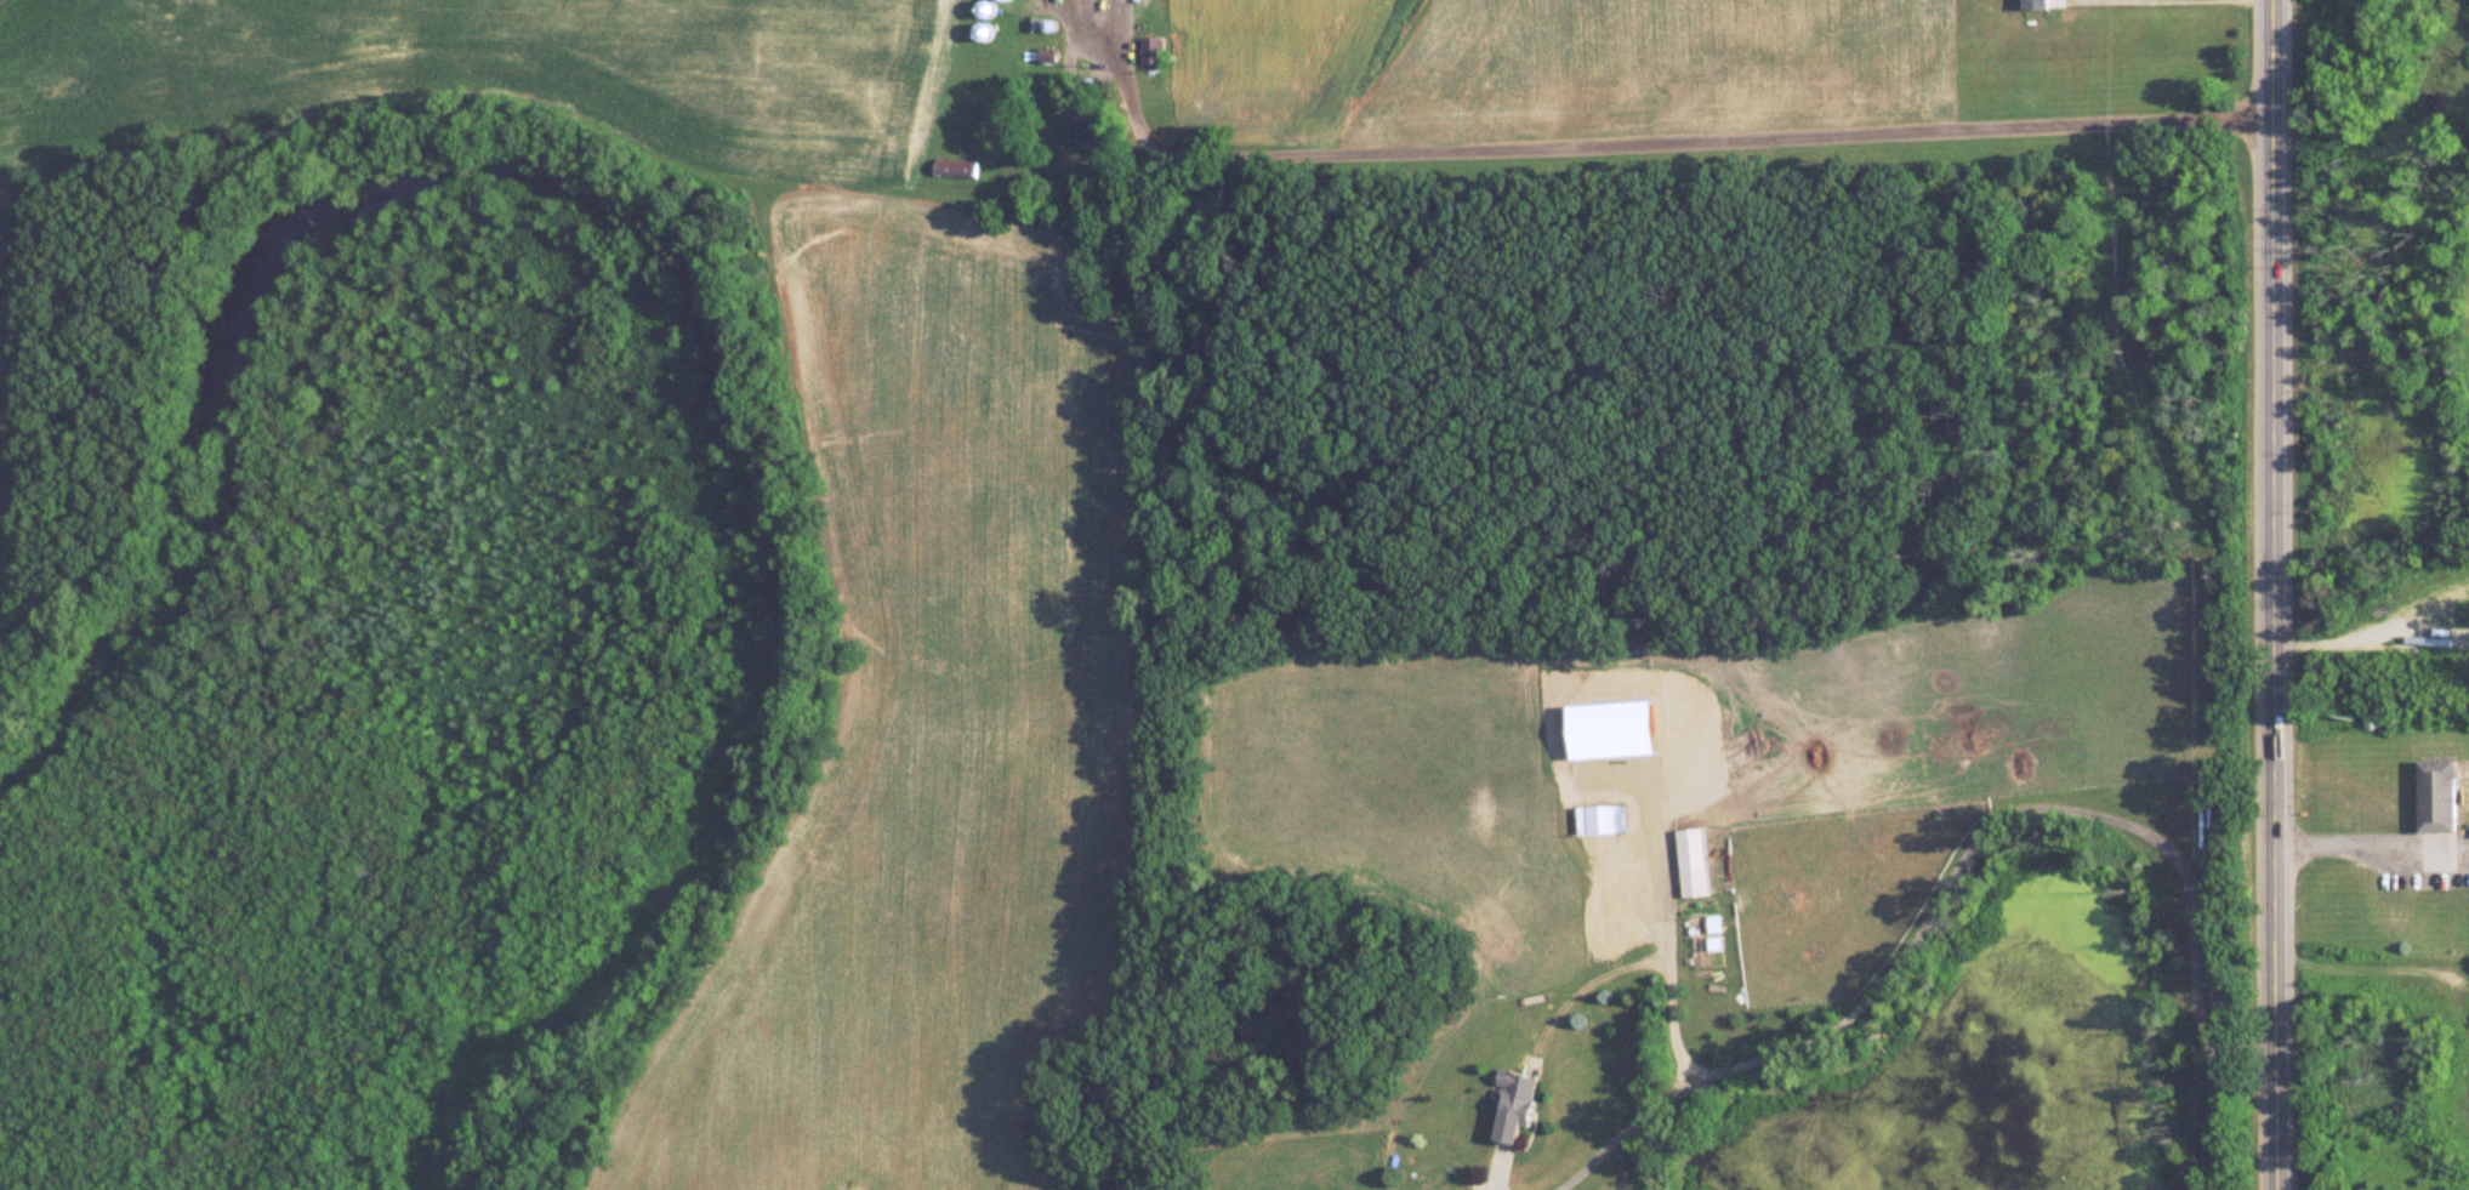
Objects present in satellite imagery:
building: (2038, 4)
building: (988, 8)
building: (983, 32)
building: (1153, 50)
building: (1049, 55)
building: (1098, 130)
road: (1673, 133)
building: (1137, 261)
road: (2282, 594)
building: (2441, 796)
road: (2009, 814)
building: (1595, 818)
building: (1693, 860)
road: (2376, 862)
road: (1666, 946)
building: (1515, 1101)
road: (1618, 1137)

